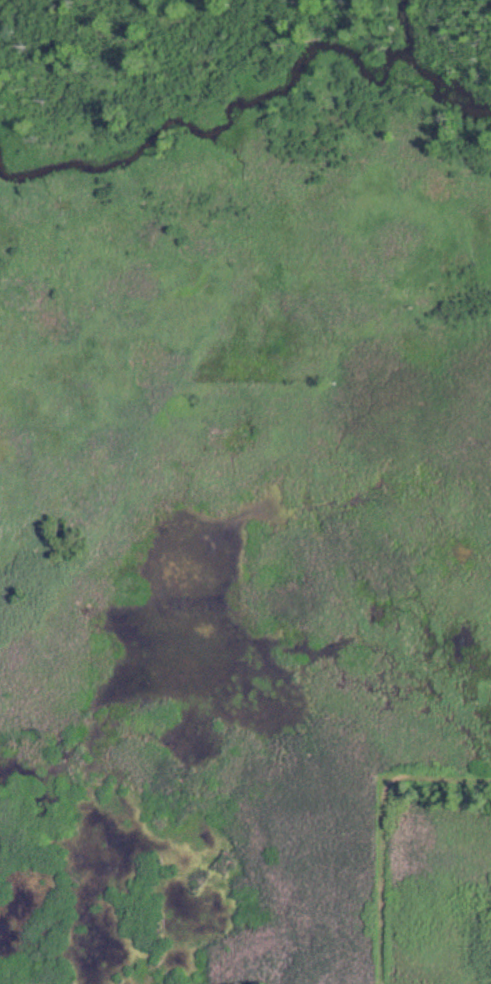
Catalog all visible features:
road: (439, 783)

